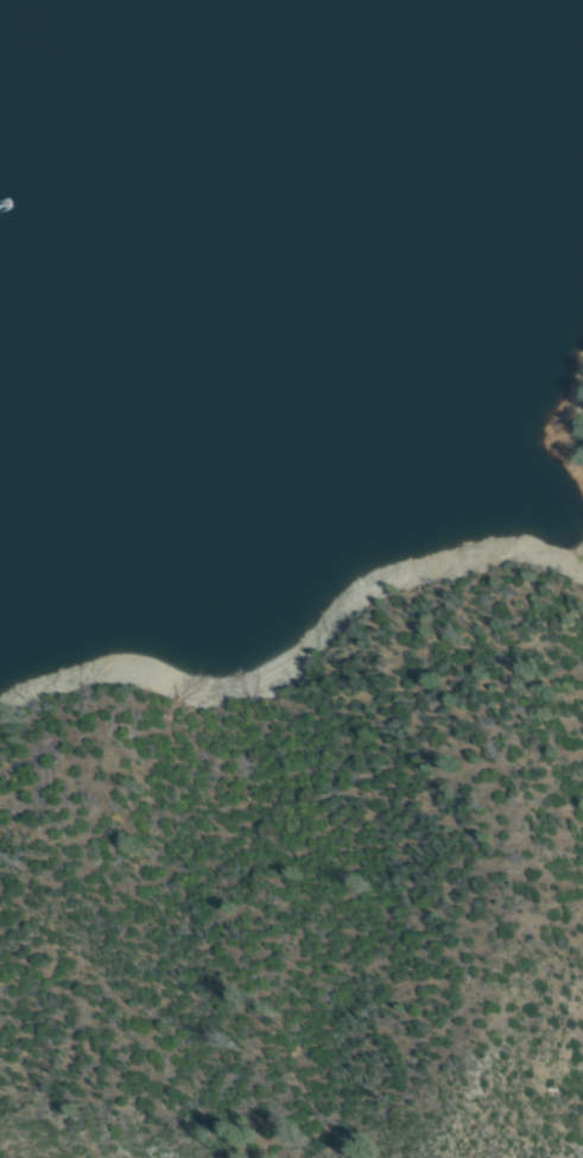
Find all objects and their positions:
river: (277, 187)

